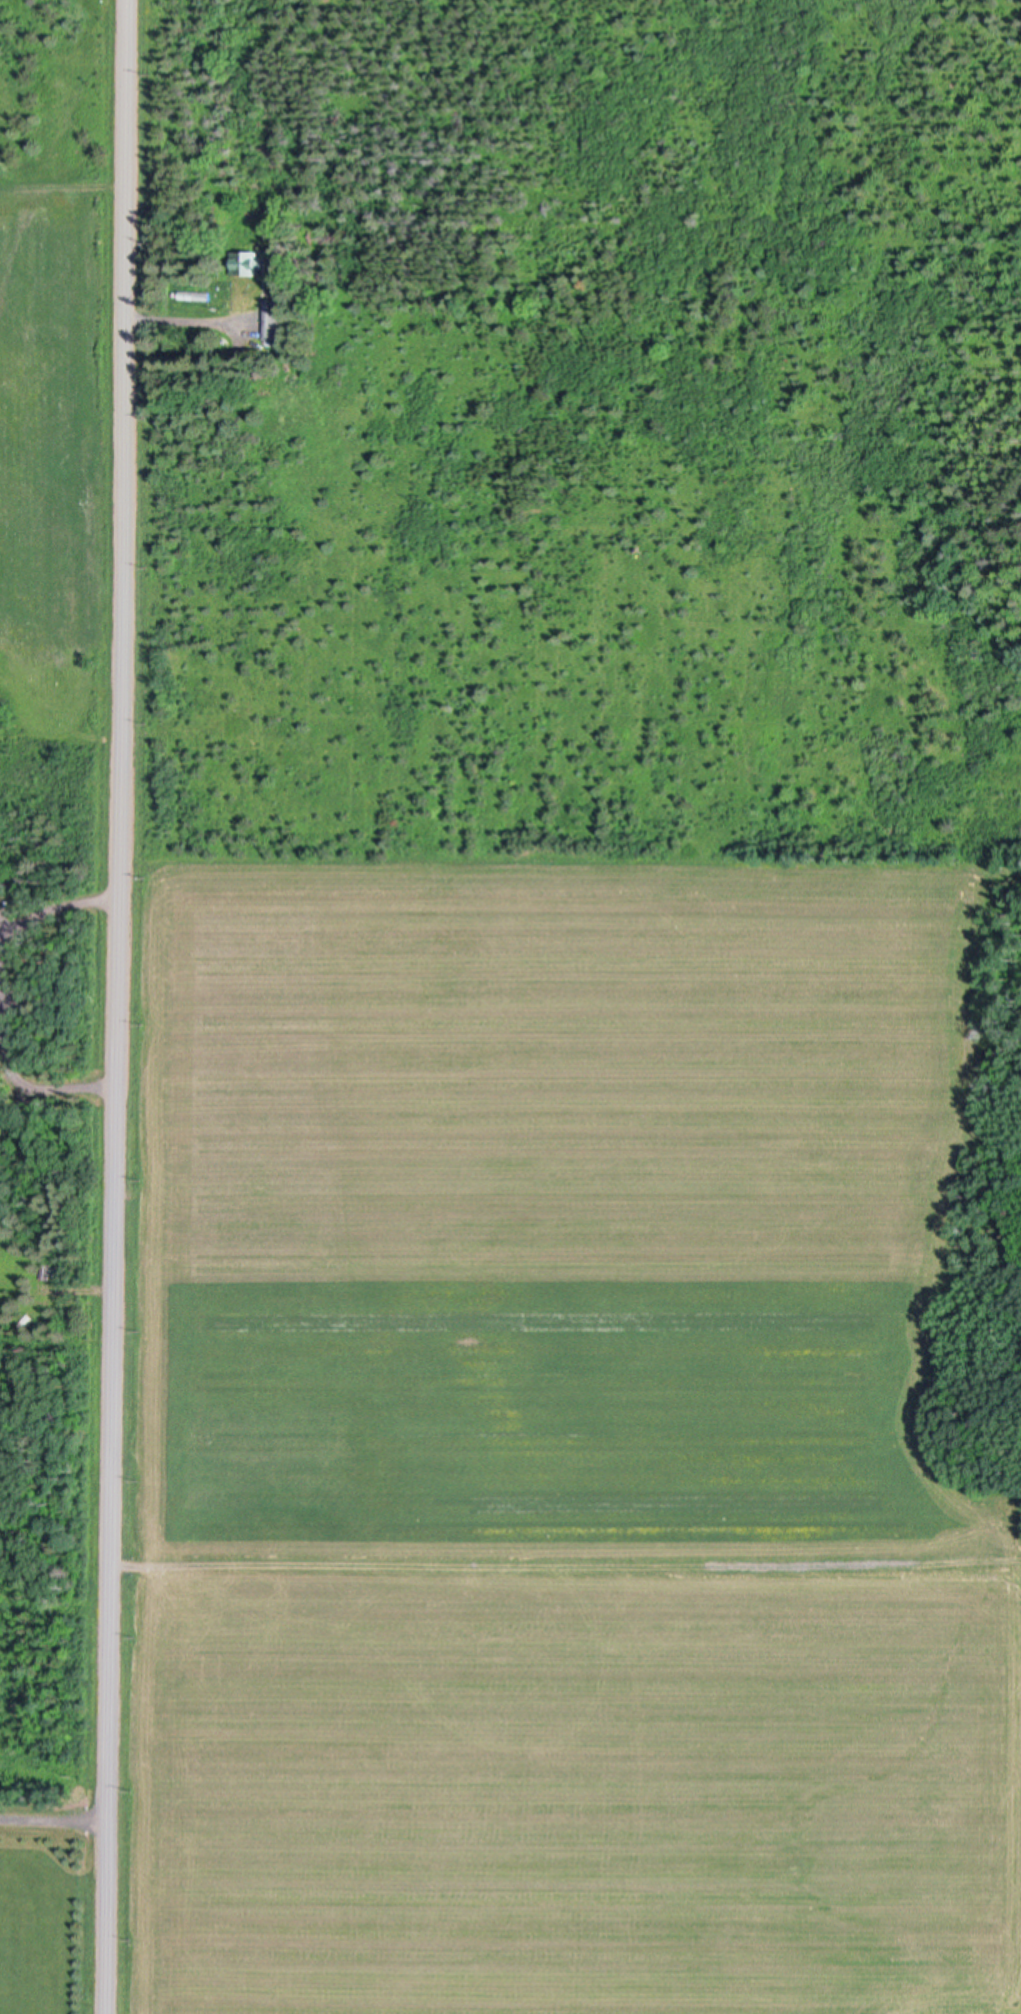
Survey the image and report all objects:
building: (247, 264)
building: (274, 320)
road: (185, 322)
road: (116, 1007)
road: (54, 1822)

